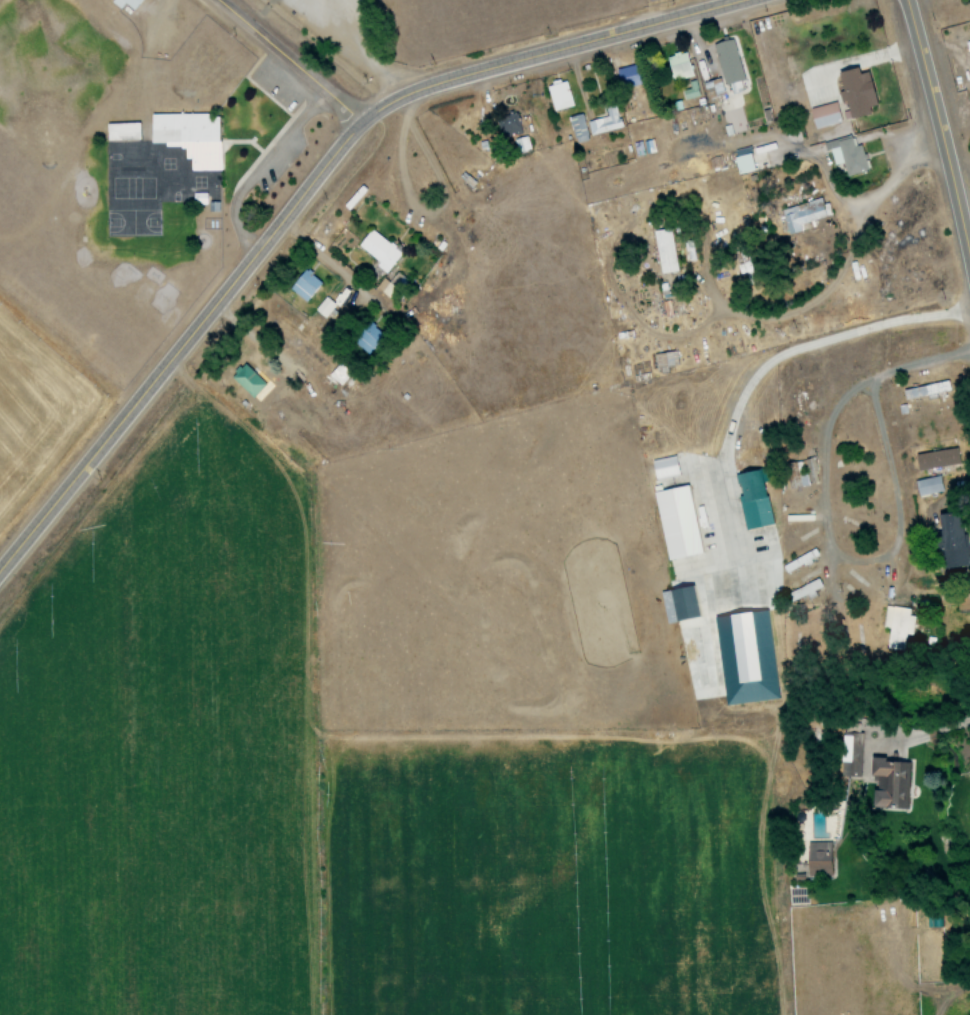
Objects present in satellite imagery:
building: (648, 0)
road: (744, 0)
building: (127, 4)
road: (629, 15)
building: (968, 49)
road: (288, 60)
building: (727, 61)
building: (677, 65)
building: (625, 76)
building: (713, 88)
building: (690, 90)
building: (854, 91)
building: (559, 95)
building: (823, 114)
building: (605, 120)
building: (507, 124)
building: (577, 127)
building: (121, 131)
building: (188, 136)
road: (940, 137)
building: (521, 144)
building: (743, 163)
road: (846, 173)
road: (309, 186)
building: (795, 217)
road: (692, 220)
building: (377, 249)
building: (662, 251)
road: (839, 267)
road: (330, 271)
building: (304, 285)
building: (323, 309)
building: (365, 336)
building: (664, 360)
road: (765, 367)
road: (917, 367)
building: (337, 375)
building: (246, 380)
building: (926, 390)
building: (936, 459)
building: (663, 467)
building: (801, 472)
building: (927, 486)
building: (751, 500)
building: (675, 522)
building: (948, 540)
road: (823, 543)
building: (803, 590)
building: (963, 601)
building: (677, 604)
building: (896, 626)
building: (745, 657)
building: (848, 755)
building: (888, 784)
building: (817, 859)

